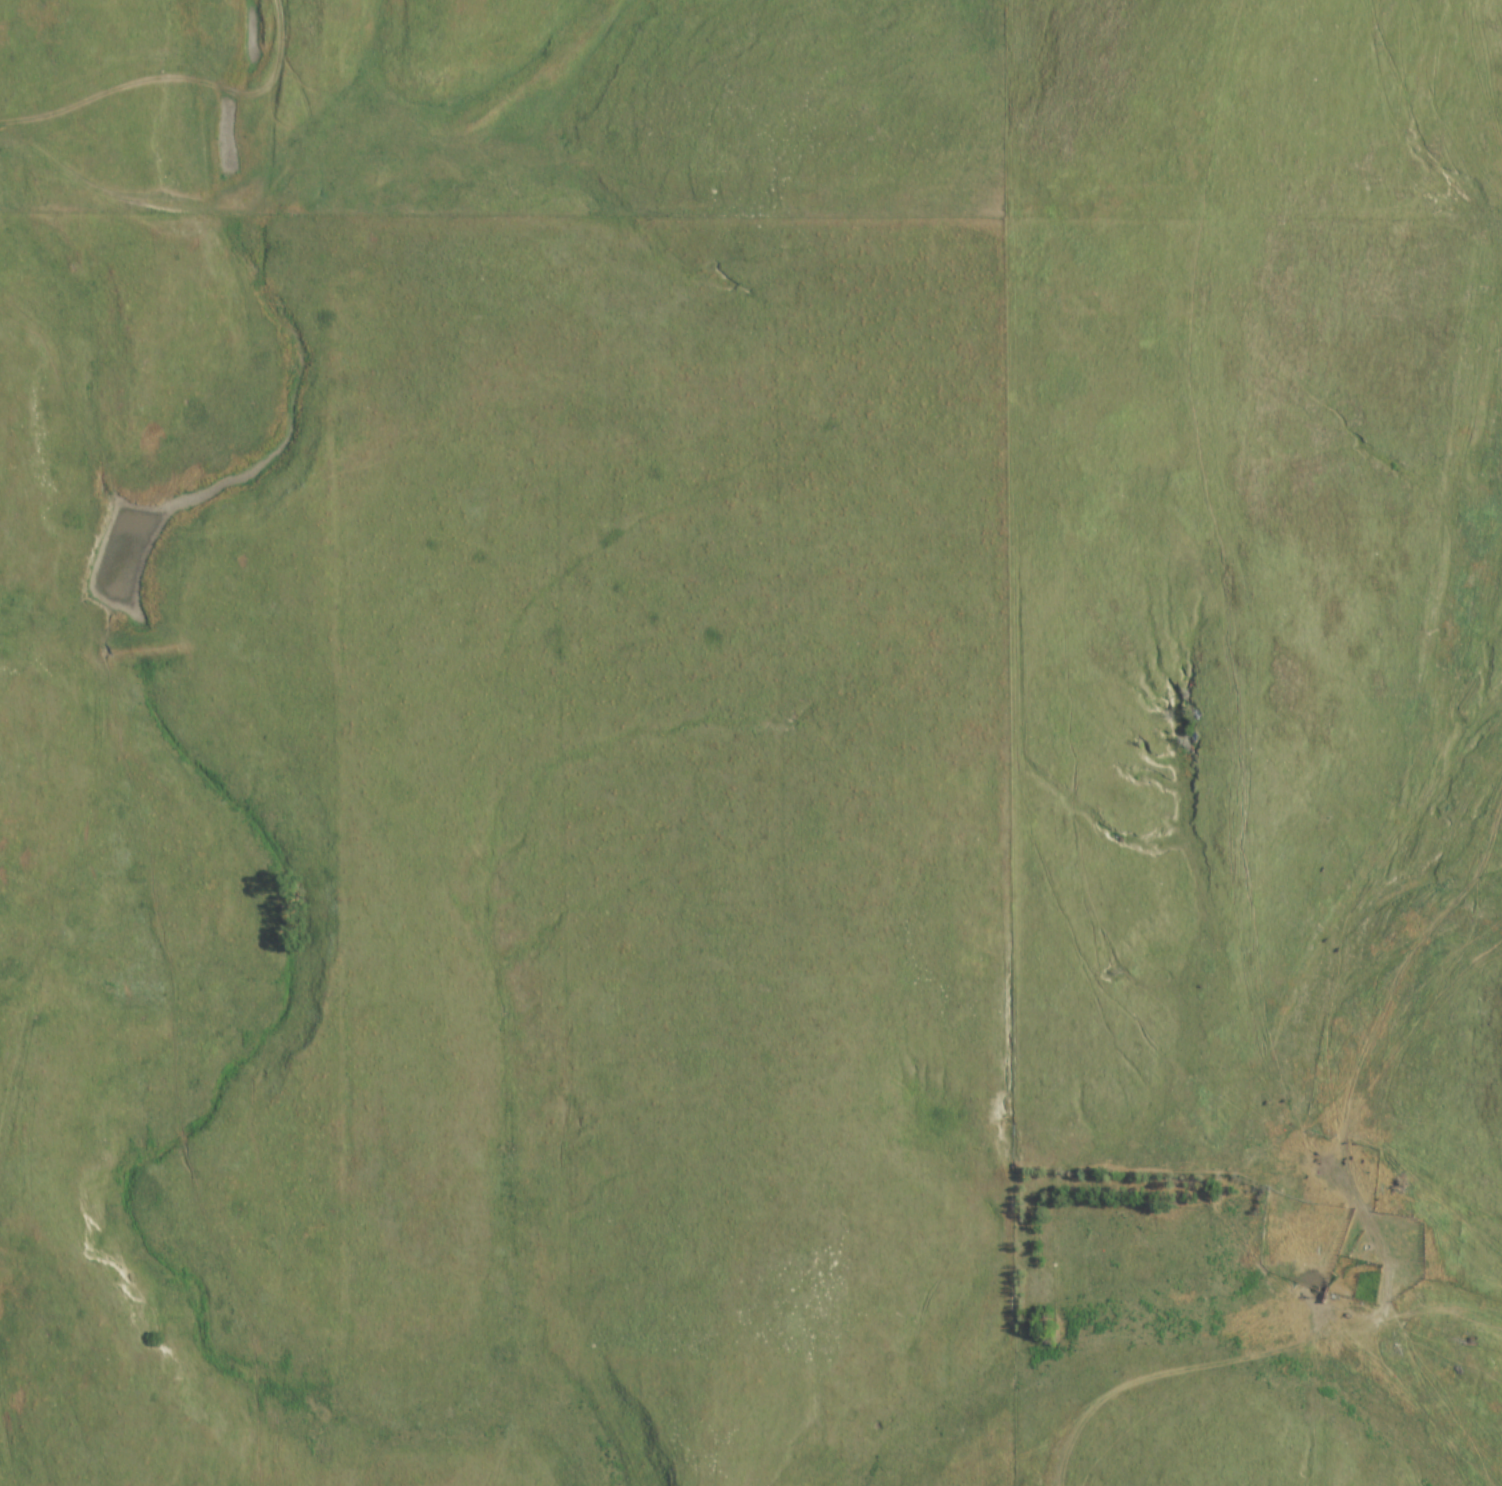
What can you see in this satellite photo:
road: (1202, 1367)

